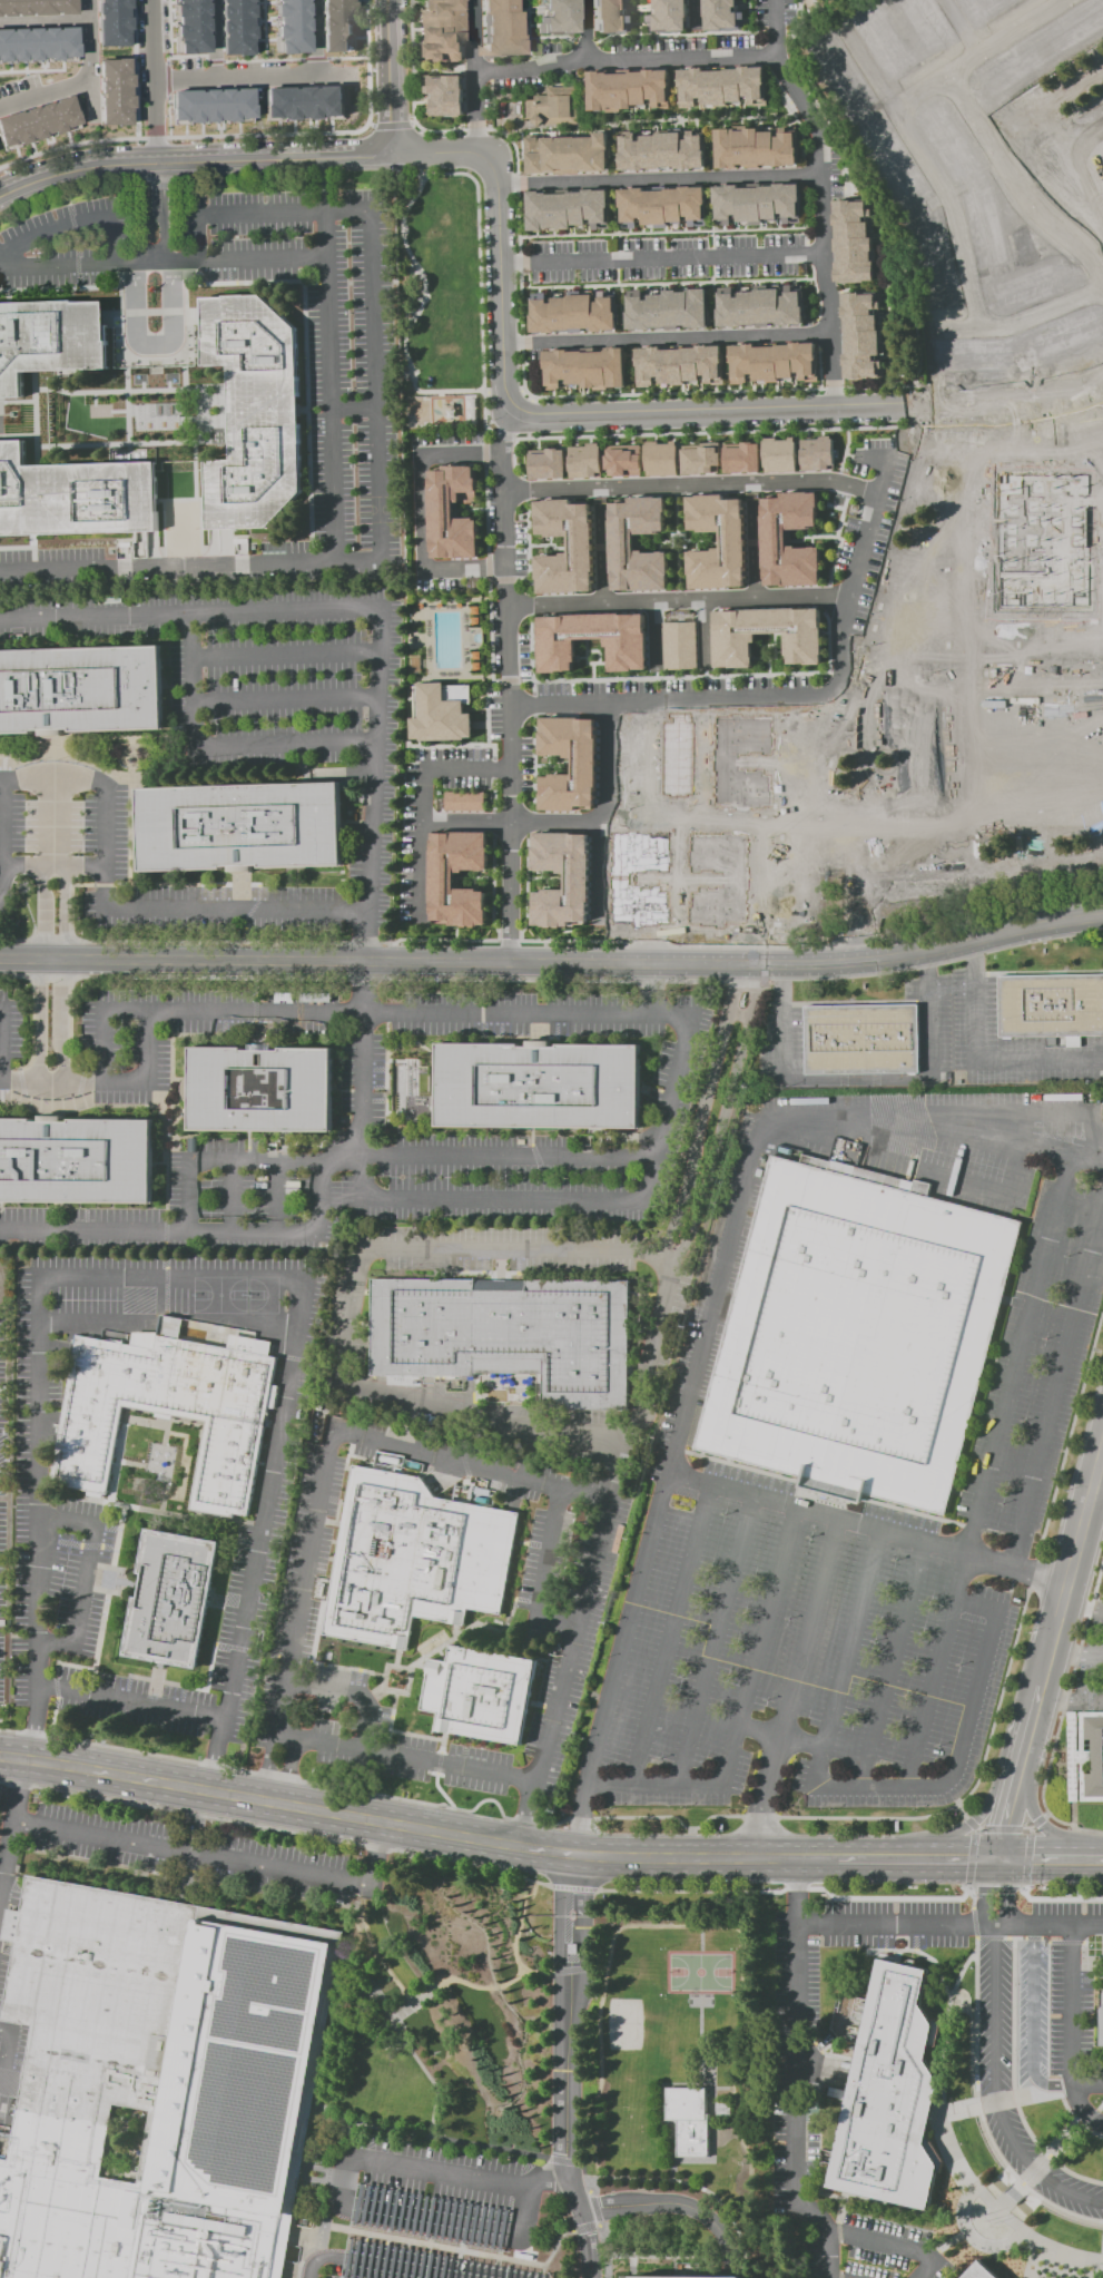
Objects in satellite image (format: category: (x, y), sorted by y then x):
building: (1018, 1)
road: (1065, 4)
building: (36, 7)
park: (819, 10)
building: (978, 10)
road: (695, 13)
building: (670, 14)
building: (720, 14)
building: (610, 16)
road: (795, 17)
building: (558, 18)
road: (42, 20)
building: (111, 22)
building: (927, 23)
building: (288, 24)
building: (337, 24)
building: (188, 27)
building: (235, 28)
building: (501, 28)
road: (168, 29)
building: (442, 29)
road: (639, 29)
road: (583, 30)
road: (962, 31)
building: (1079, 32)
road: (526, 33)
road: (637, 33)
road: (313, 37)
road: (211, 38)
building: (37, 42)
building: (883, 42)
road: (656, 46)
road: (86, 57)
road: (989, 57)
road: (623, 59)
road: (30, 70)
road: (433, 72)
road: (245, 75)
road: (474, 75)
building: (1012, 75)
road: (393, 76)
building: (843, 76)
road: (150, 80)
building: (722, 87)
road: (674, 88)
building: (628, 89)
road: (42, 90)
building: (112, 90)
building: (445, 96)
building: (303, 102)
building: (553, 105)
building: (209, 106)
road: (687, 118)
building: (37, 121)
road: (405, 122)
road: (833, 129)
road: (331, 131)
road: (134, 136)
road: (151, 136)
building: (947, 147)
building: (755, 148)
building: (662, 151)
building: (568, 154)
road: (194, 159)
road: (928, 168)
building: (897, 171)
road: (613, 176)
road: (658, 179)
road: (802, 190)
road: (1016, 190)
road: (820, 196)
building: (757, 203)
building: (661, 207)
building: (567, 209)
road: (284, 213)
road: (710, 227)
road: (1006, 229)
road: (660, 230)
road: (52, 233)
road: (498, 233)
building: (985, 234)
road: (199, 238)
parking lot: (65, 242)
building: (853, 242)
road: (112, 244)
road: (618, 245)
building: (1024, 252)
road: (894, 256)
road: (661, 257)
building: (935, 259)
road: (165, 264)
road: (617, 271)
road: (1018, 273)
road: (879, 278)
road: (672, 282)
road: (920, 285)
road: (848, 288)
building: (1030, 294)
park: (436, 301)
road: (421, 302)
building: (760, 307)
building: (667, 310)
road: (620, 311)
road: (154, 313)
building: (572, 313)
road: (1018, 320)
building: (1062, 331)
road: (117, 336)
road: (917, 336)
road: (156, 337)
road: (667, 337)
building: (861, 337)
building: (49, 340)
building: (972, 353)
road: (186, 354)
road: (332, 360)
building: (772, 362)
building: (678, 365)
fountain: (157, 369)
building: (584, 369)
road: (726, 371)
road: (630, 374)
parking lot: (314, 380)
road: (376, 386)
road: (494, 391)
road: (807, 404)
road: (355, 410)
building: (255, 411)
road: (227, 413)
road: (179, 415)
road: (33, 418)
road: (129, 420)
road: (17, 438)
road: (846, 443)
building: (815, 453)
building: (778, 454)
road: (848, 454)
building: (660, 458)
building: (699, 458)
building: (741, 458)
building: (583, 460)
building: (621, 460)
building: (545, 463)
road: (169, 468)
road: (196, 474)
road: (689, 484)
building: (75, 495)
road: (834, 505)
park: (380, 509)
road: (466, 509)
road: (470, 509)
building: (452, 511)
road: (420, 512)
road: (163, 519)
park: (183, 530)
building: (772, 534)
road: (804, 536)
building: (731, 537)
building: (620, 539)
road: (677, 540)
building: (580, 541)
road: (677, 541)
road: (549, 544)
road: (682, 546)
road: (752, 548)
building: (1016, 551)
road: (601, 552)
road: (360, 563)
road: (168, 568)
parking lot: (51, 569)
road: (829, 577)
road: (509, 578)
road: (529, 597)
road: (678, 599)
road: (343, 609)
road: (703, 634)
road: (653, 636)
road: (467, 637)
building: (732, 637)
road: (430, 638)
road: (772, 638)
building: (624, 642)
road: (585, 644)
building: (678, 645)
road: (778, 650)
road: (284, 654)
road: (580, 657)
road: (756, 657)
road: (772, 657)
road: (603, 661)
road: (598, 662)
road: (768, 665)
building: (1001, 665)
road: (592, 670)
road: (705, 672)
road: (654, 674)
road: (664, 676)
road: (417, 677)
road: (492, 683)
road: (510, 683)
building: (80, 688)
road: (805, 696)
road: (284, 699)
building: (441, 711)
road: (416, 745)
road: (217, 746)
building: (670, 758)
road: (546, 759)
road: (770, 762)
road: (607, 764)
road: (554, 765)
building: (717, 766)
building: (583, 767)
road: (553, 769)
building: (979, 769)
road: (700, 770)
road: (648, 773)
road: (2, 783)
road: (422, 799)
building: (463, 801)
road: (800, 807)
road: (52, 819)
road: (699, 819)
road: (510, 822)
building: (239, 827)
road: (526, 834)
road: (106, 865)
road: (479, 873)
road: (540, 873)
road: (598, 873)
road: (758, 874)
road: (473, 876)
road: (545, 877)
road: (677, 881)
building: (442, 882)
road: (472, 882)
road: (677, 882)
road: (545, 883)
building: (577, 883)
building: (726, 883)
building: (614, 905)
road: (976, 943)
road: (425, 962)
road: (368, 964)
road: (41, 973)
road: (61, 973)
road: (651, 990)
building: (1050, 1004)
road: (423, 1014)
road: (105, 1024)
building: (861, 1038)
road: (0, 1044)
road: (981, 1061)
road: (0, 1078)
road: (859, 1080)
road: (21, 1081)
road: (130, 1083)
road: (365, 1084)
building: (539, 1086)
road: (676, 1087)
building: (259, 1089)
road: (705, 1111)
road: (727, 1116)
road: (973, 1135)
road: (387, 1156)
road: (1089, 1157)
building: (76, 1160)
road: (985, 1189)
road: (233, 1197)
road: (280, 1197)
road: (323, 1198)
road: (506, 1201)
road: (93, 1231)
road: (255, 1233)
road: (552, 1257)
road: (218, 1273)
road: (726, 1274)
park: (236, 1295)
road: (114, 1324)
building: (508, 1334)
building: (859, 1336)
road: (1022, 1354)
parking lot: (1033, 1377)
road: (1055, 1388)
building: (174, 1404)
road: (484, 1421)
road: (473, 1465)
road: (1096, 1494)
road: (826, 1505)
road: (839, 1520)
building: (413, 1560)
road: (1037, 1572)
road: (85, 1574)
road: (539, 1575)
road: (303, 1583)
road: (1062, 1593)
building: (171, 1598)
road: (1097, 1618)
road: (809, 1628)
road: (673, 1637)
road: (577, 1641)
road: (717, 1642)
road: (760, 1648)
road: (1095, 1658)
road: (38, 1661)
road: (849, 1661)
road: (894, 1666)
road: (939, 1671)
road: (353, 1695)
building: (481, 1695)
road: (129, 1701)
road: (1068, 1701)
road: (32, 1724)
road: (782, 1737)
road: (965, 1745)
road: (358, 1750)
building: (1085, 1756)
road: (213, 1757)
road: (269, 1769)
road: (289, 1773)
road: (489, 1774)
road: (131, 1780)
road: (654, 1786)
road: (764, 1797)
road: (1007, 1801)
road: (529, 1814)
road: (979, 1815)
road: (1036, 1817)
road: (578, 1820)
road: (393, 1824)
road: (13, 1835)
road: (194, 1854)
road: (377, 1855)
road: (820, 1858)
road: (876, 1858)
road: (954, 1859)
road: (660, 1860)
traffic signals: (999, 1860)
road: (1051, 1860)
road: (539, 1883)
road: (951, 1924)
road: (520, 1926)
road: (670, 1928)
road: (703, 1941)
park: (703, 1974)
road: (494, 1986)
parking lot: (1071, 2004)
parking lot: (1031, 2010)
building: (1101, 2014)
parking lot: (996, 2019)
road: (1032, 2021)
road: (1071, 2032)
fountain: (962, 2043)
road: (999, 2058)
road: (702, 2059)
road: (570, 2068)
road: (796, 2075)
parking lot: (796, 2076)
building: (161, 2083)
road: (1087, 2083)
building: (887, 2091)
road: (1002, 2102)
building: (693, 2122)
fountain: (994, 2158)
road: (1042, 2166)
road: (696, 2187)
road: (347, 2190)
road: (680, 2205)
road: (996, 2211)
fountain: (1055, 2211)
parking lot: (429, 2213)
fountain: (992, 2218)
road: (972, 2239)
road: (559, 2245)
road: (436, 2246)
road: (947, 2246)
road: (887, 2248)
road: (1034, 2260)
road: (373, 2262)
road: (1090, 2269)
building: (979, 2271)
building: (695, 2277)
road: (830, 2277)

